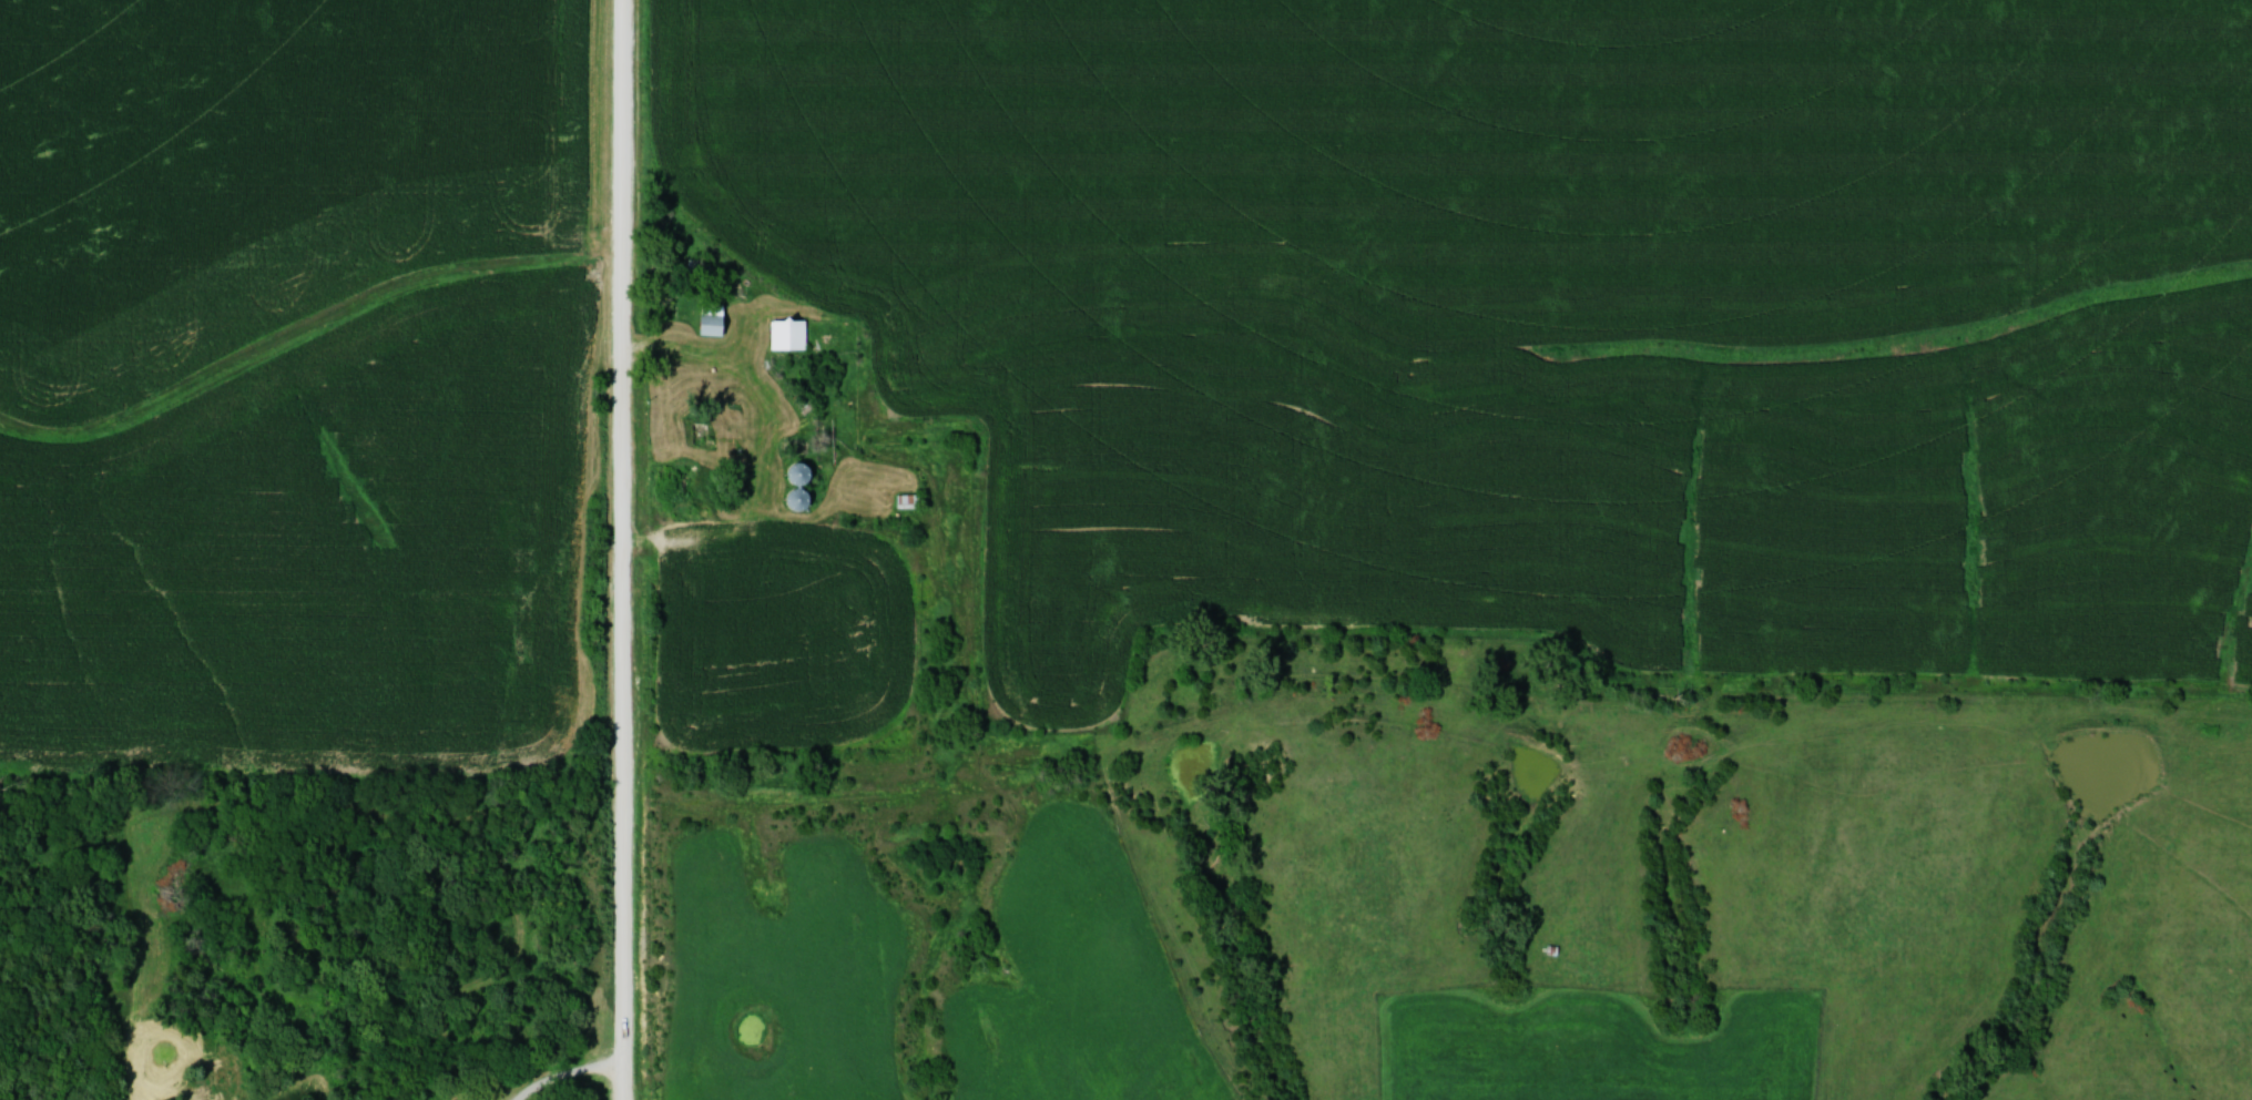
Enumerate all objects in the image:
building: (714, 320)
building: (789, 334)
road: (699, 357)
building: (704, 430)
building: (803, 473)
building: (801, 498)
road: (628, 549)
road: (571, 1077)

